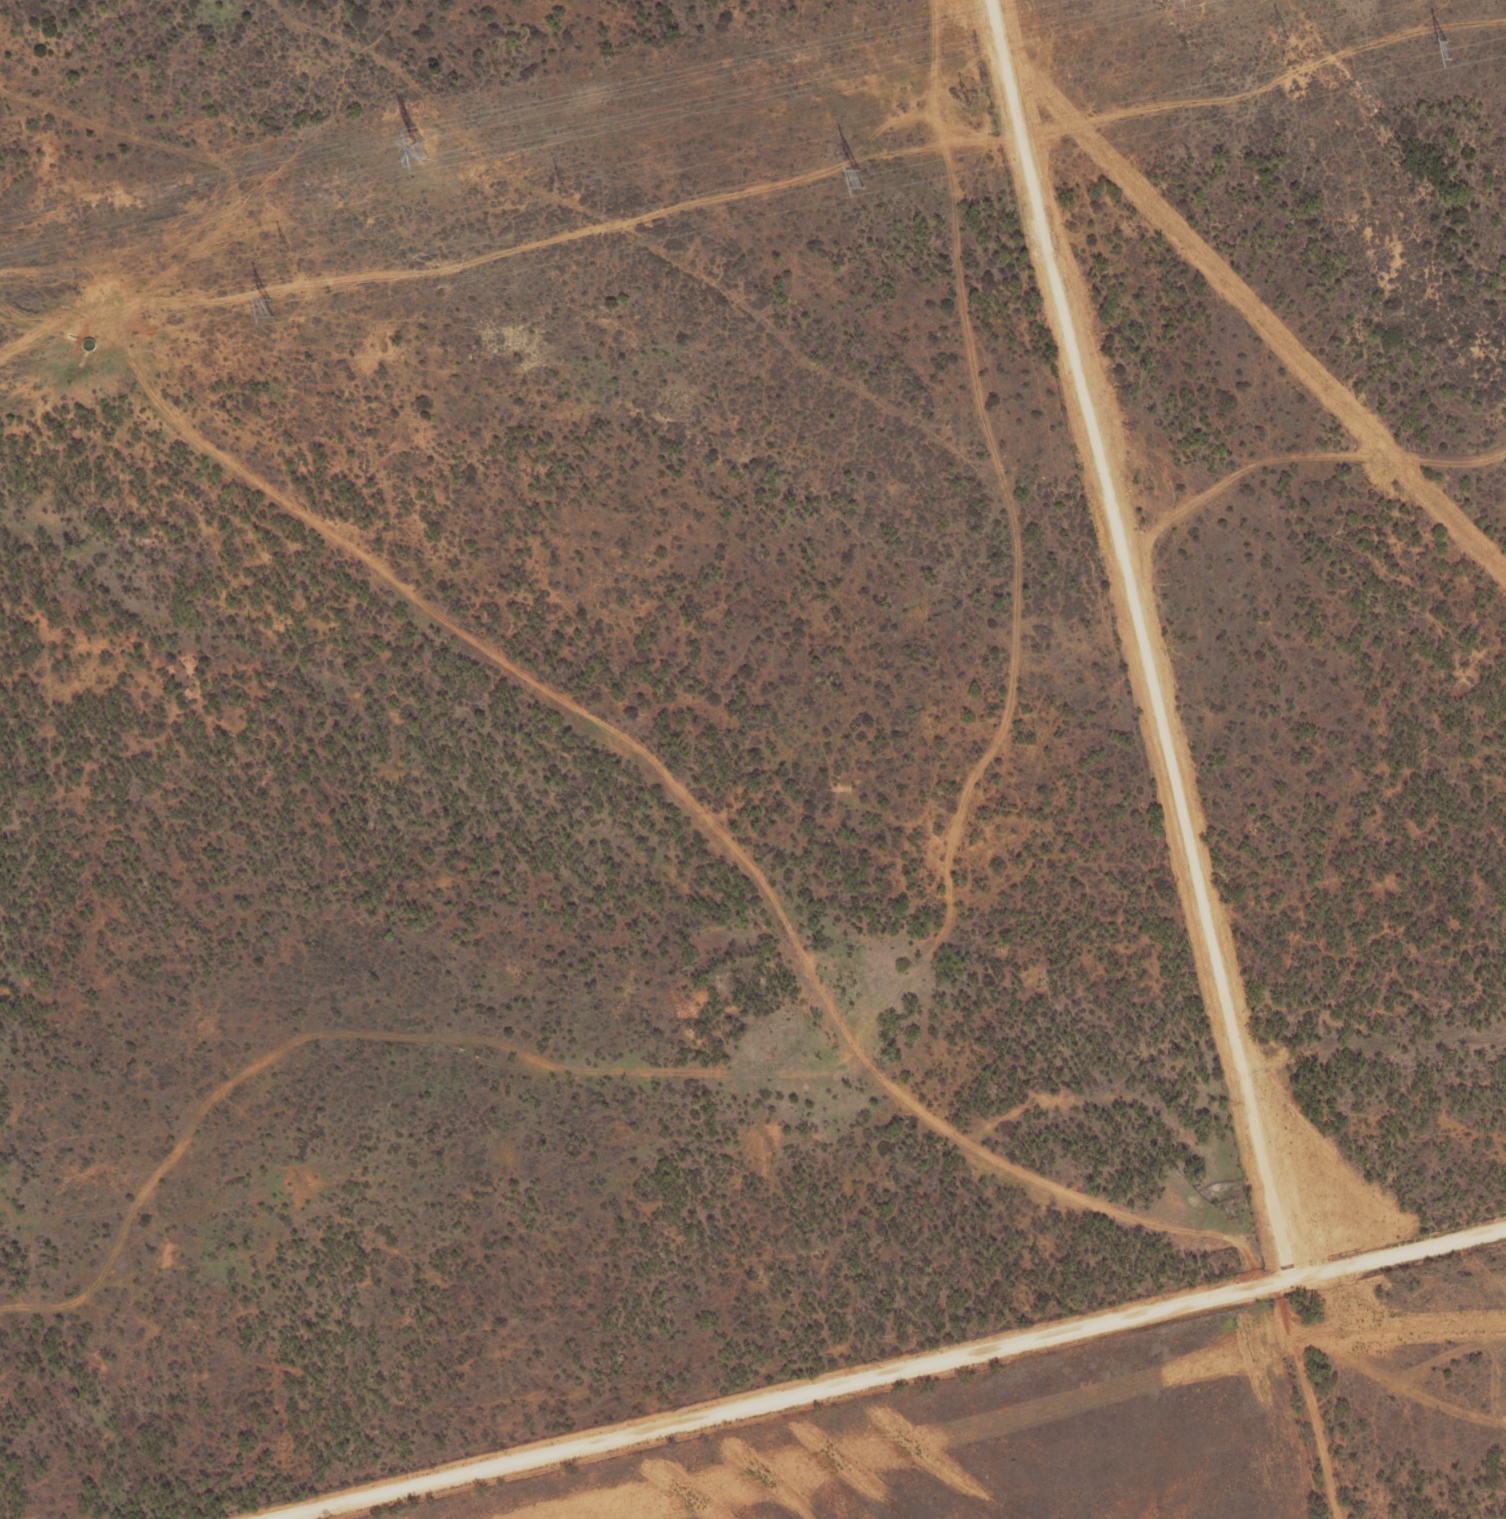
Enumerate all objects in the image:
power tower: (1286, 30)
power tower: (1444, 50)
power tower: (970, 97)
power tower: (418, 151)
power tower: (851, 176)
power tower: (566, 184)
power tower: (290, 245)
power tower: (267, 308)
road: (1093, 425)
road: (1187, 522)
road: (532, 676)
road: (1241, 1065)
road: (1207, 1236)
road: (891, 1373)

